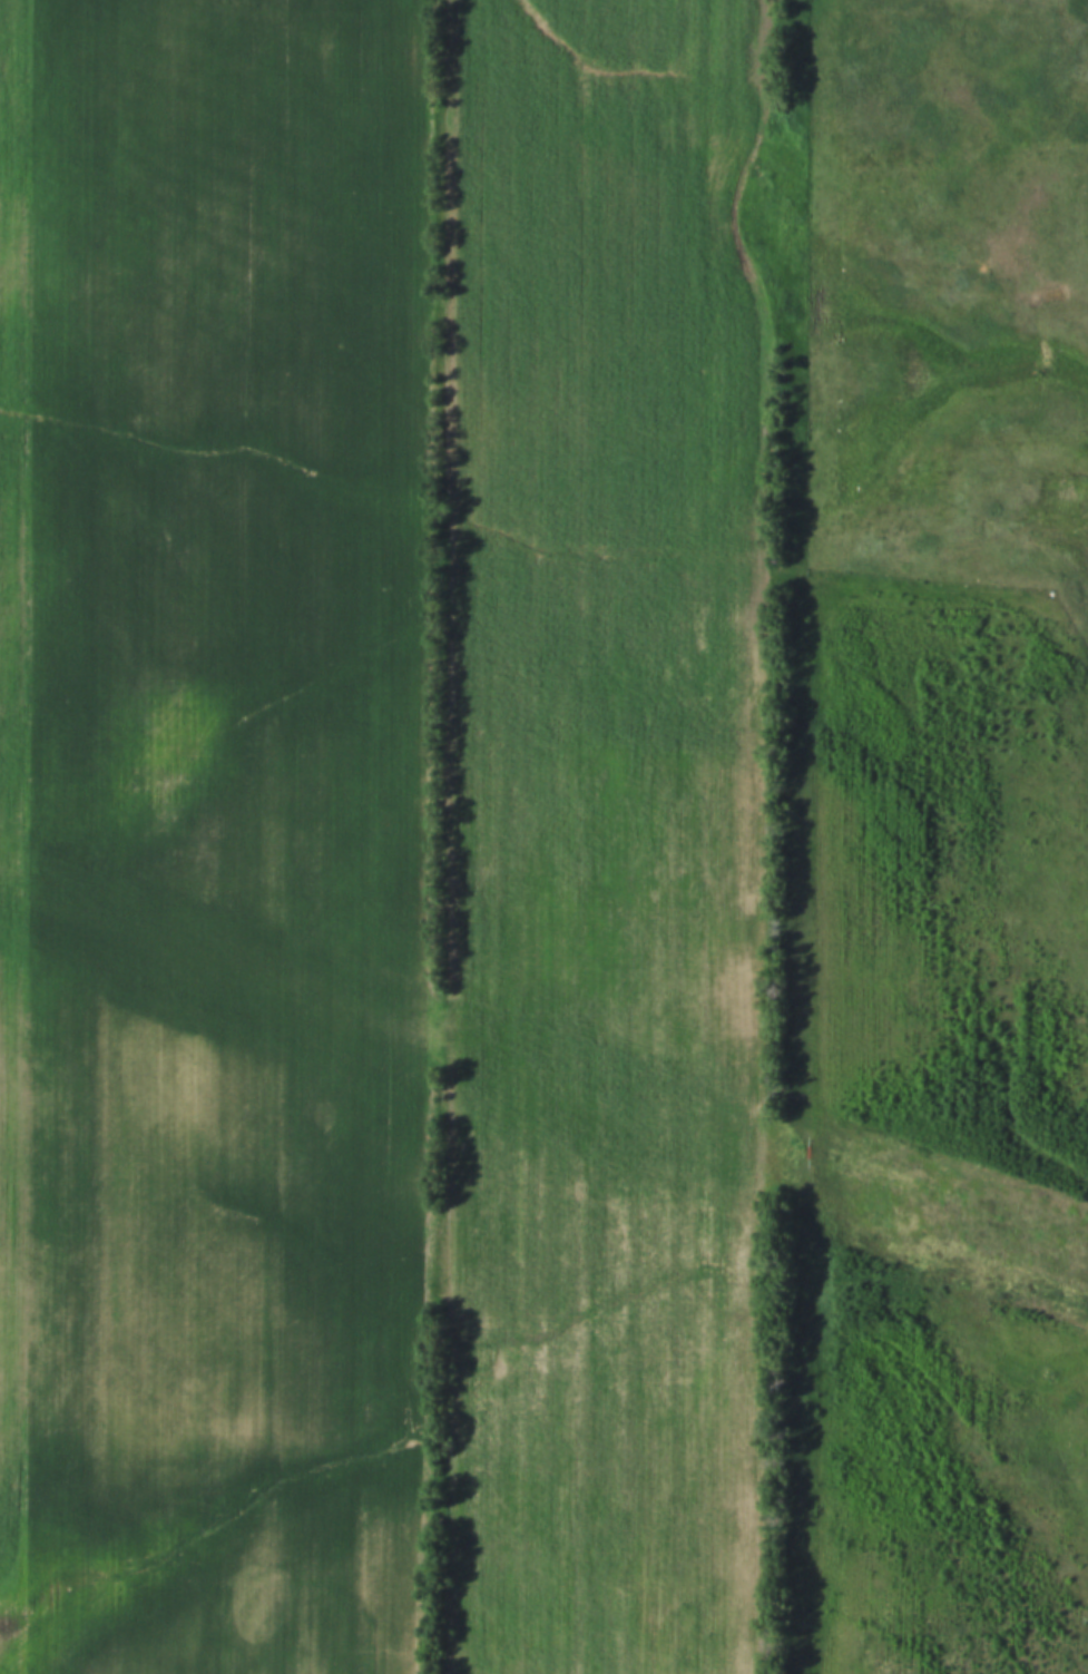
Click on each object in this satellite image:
road: (808, 6)
road: (804, 836)

